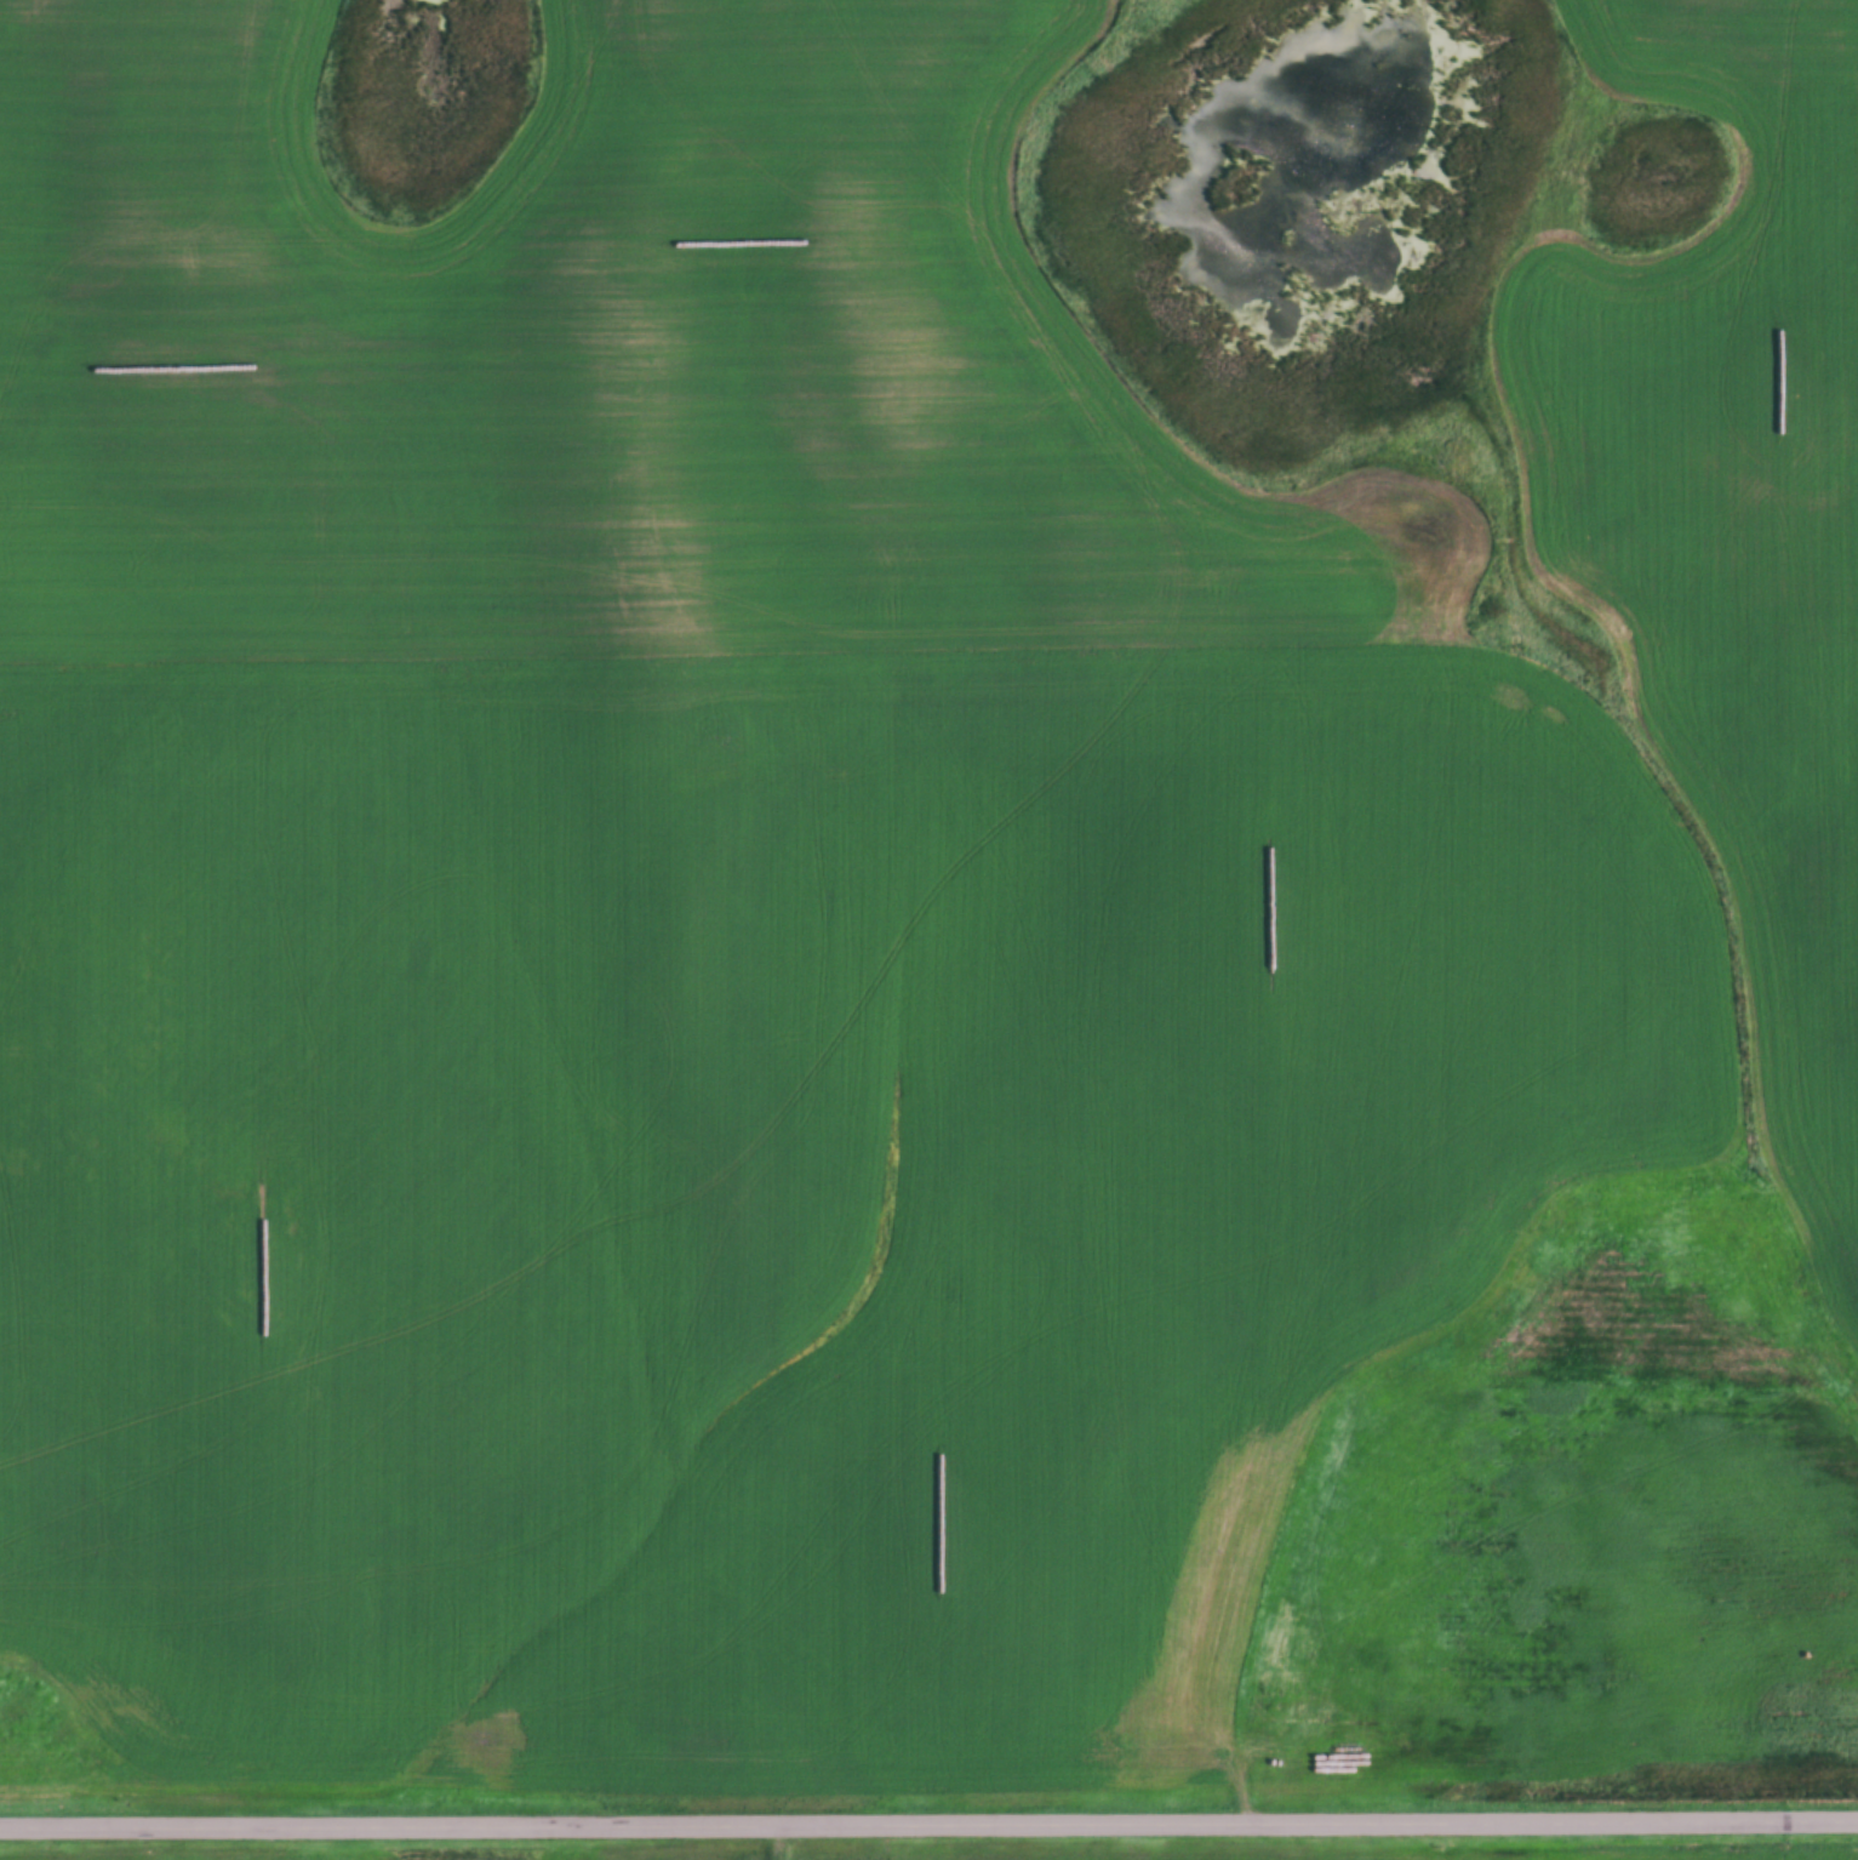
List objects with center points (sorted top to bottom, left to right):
building: (978, 1637)
road: (928, 1821)

